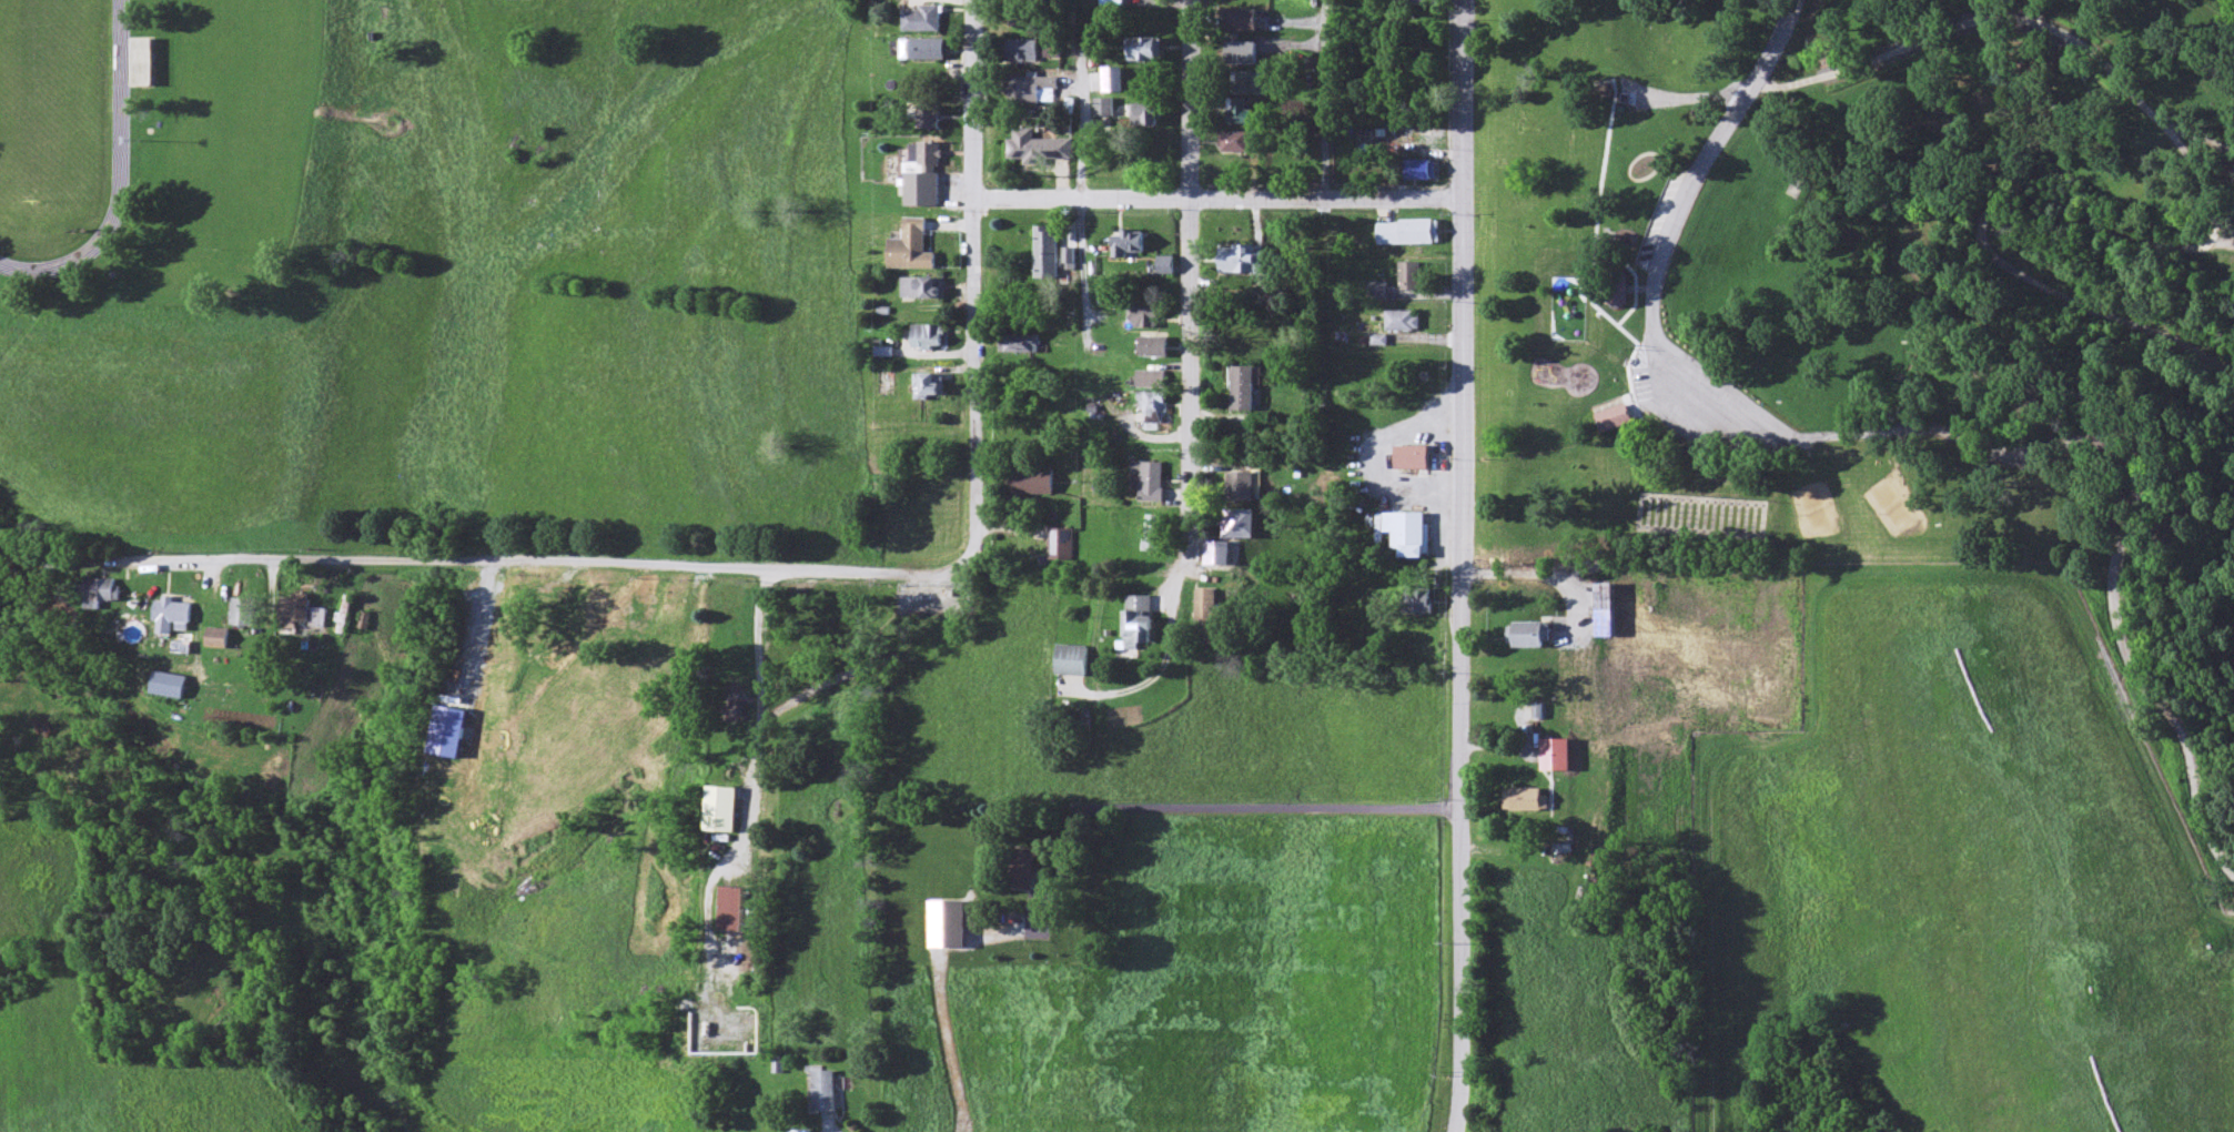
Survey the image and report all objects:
road: (1601, 81)
building: (1605, 91)
road: (1692, 99)
park: (48, 100)
road: (2202, 144)
stadium: (79, 160)
road: (1660, 160)
road: (1616, 192)
road: (1217, 199)
road: (1601, 200)
parking lot: (1658, 222)
road: (2216, 232)
road: (1669, 245)
road: (2221, 245)
road: (1462, 282)
road: (974, 284)
fountain: (1580, 291)
building: (1619, 291)
road: (1187, 292)
park: (1869, 310)
road: (1615, 316)
road: (2125, 365)
parking lot: (1700, 403)
building: (1615, 418)
park: (1898, 508)
park: (1815, 511)
road: (2131, 512)
park: (1699, 517)
road: (566, 566)
building: (1530, 636)
road: (1274, 811)
road: (1459, 849)

